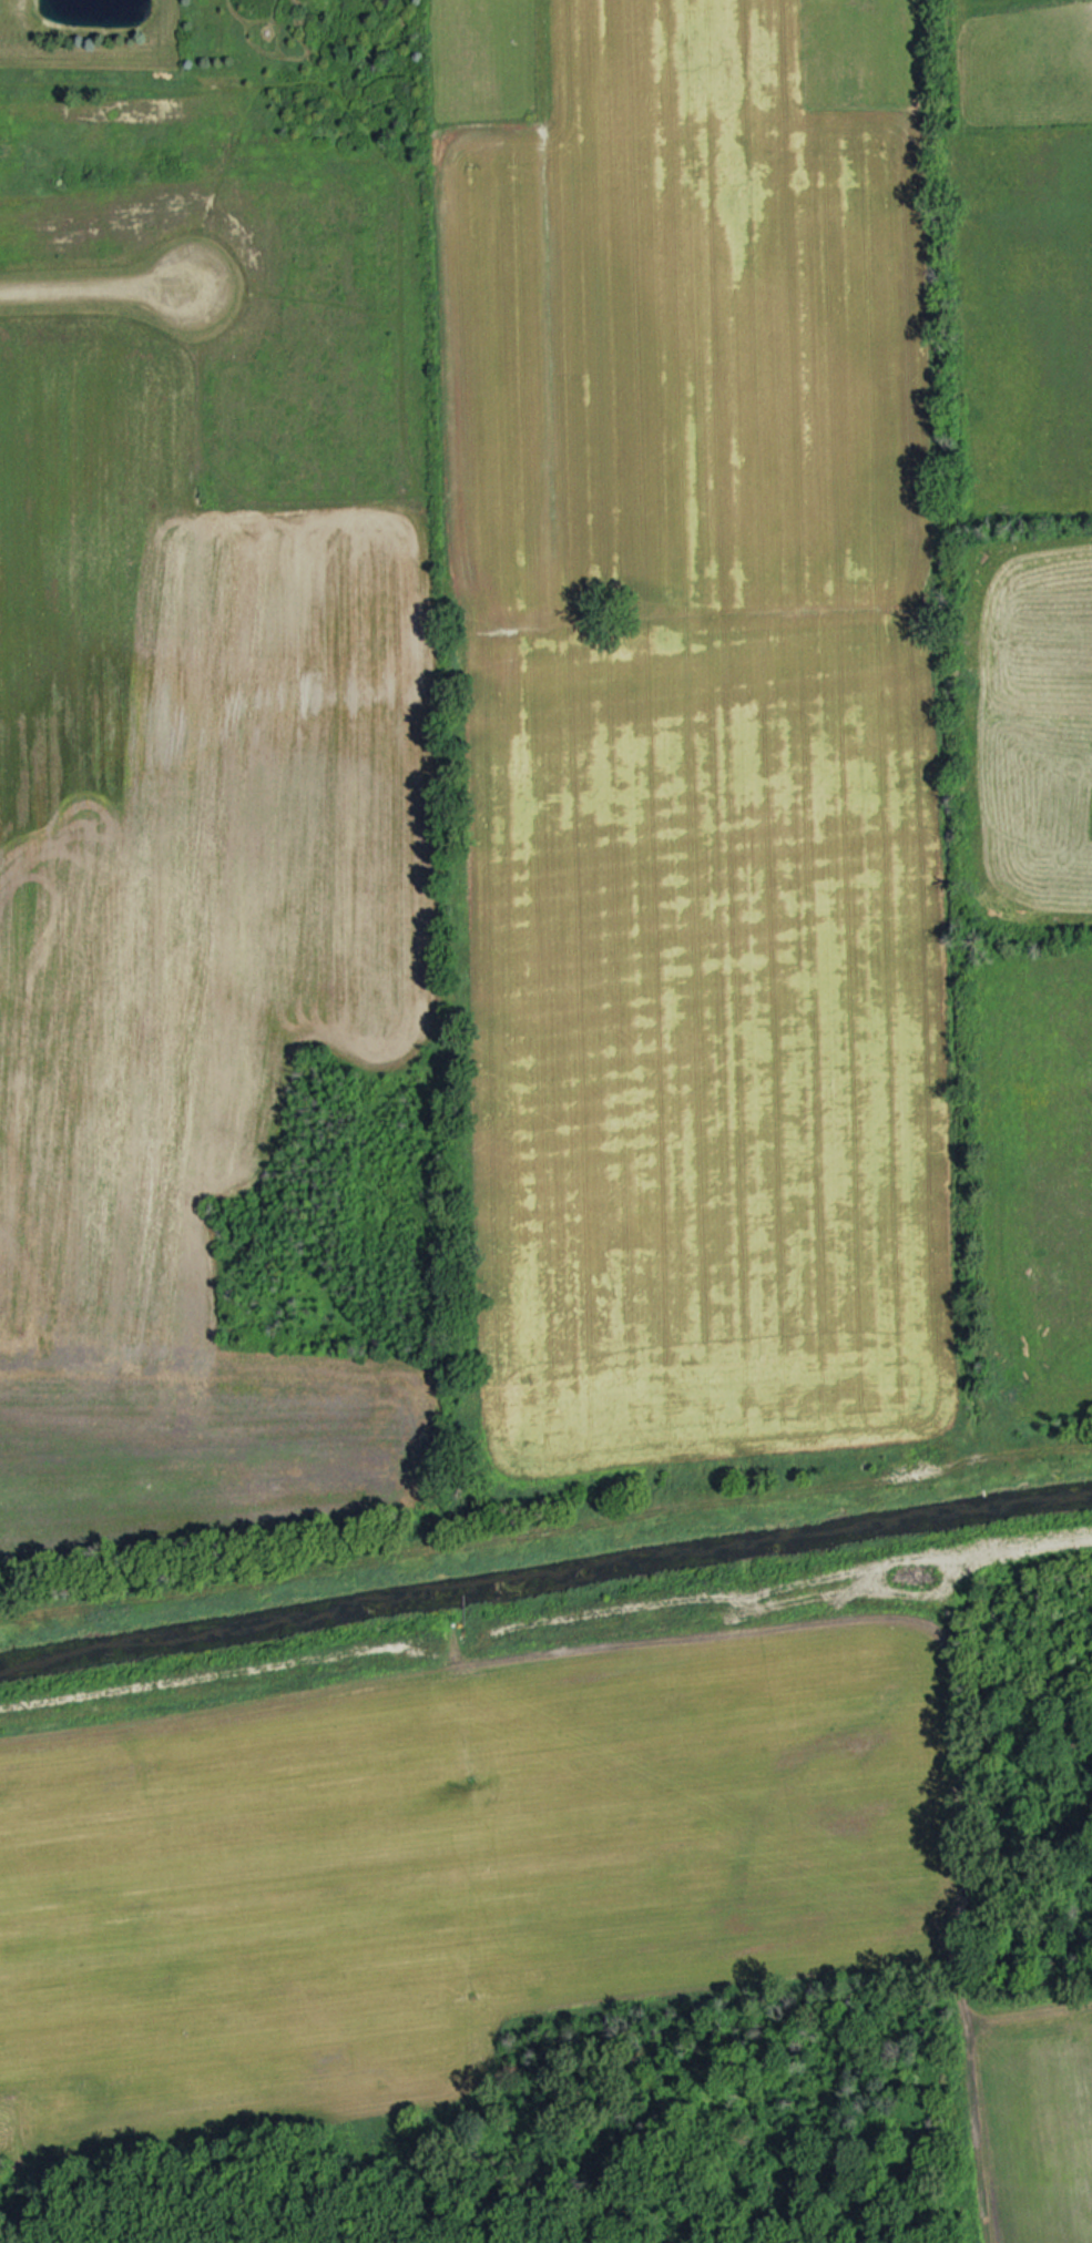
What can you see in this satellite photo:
road: (100, 286)

